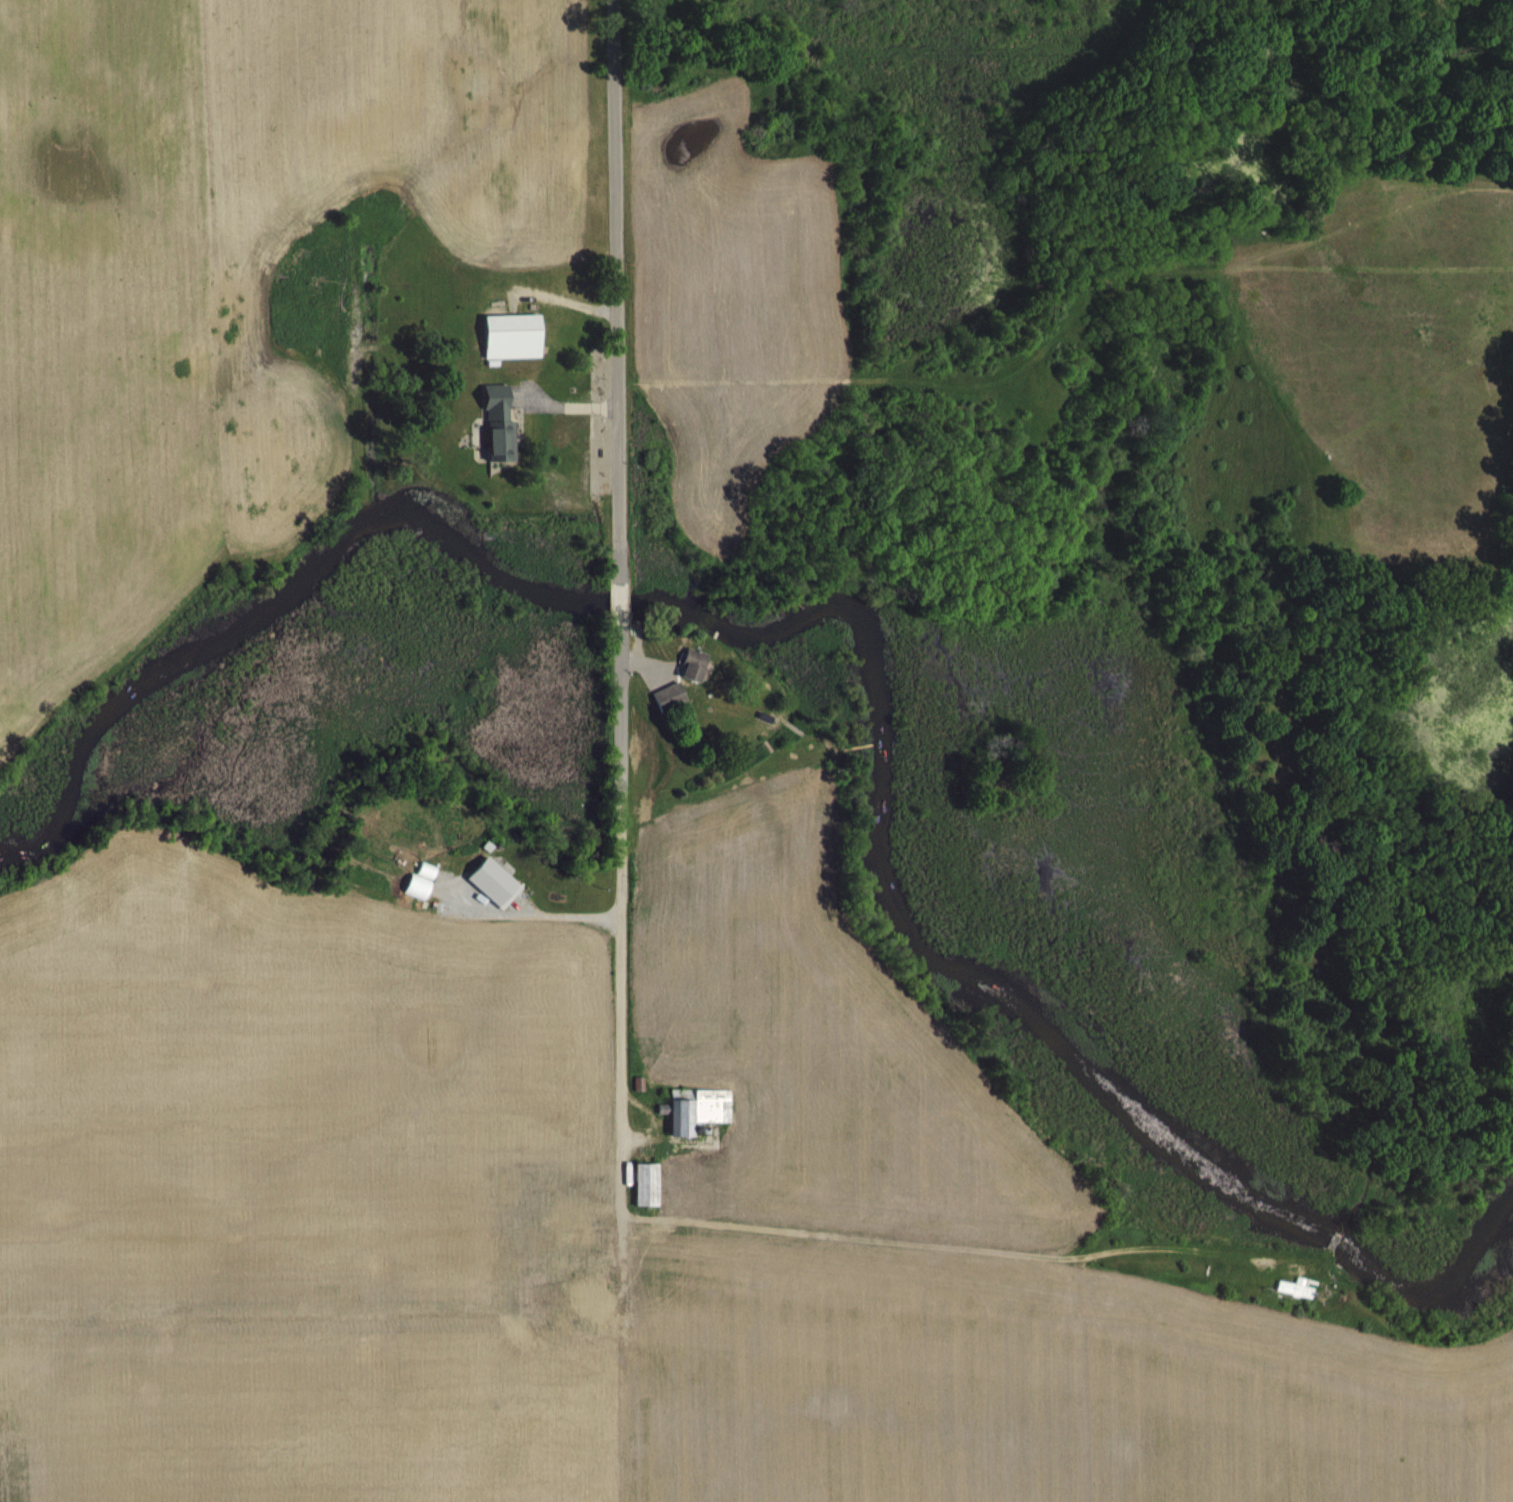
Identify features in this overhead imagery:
road: (614, 274)
building: (517, 336)
building: (503, 424)
road: (621, 599)
river: (876, 633)
building: (697, 663)
building: (671, 696)
building: (496, 881)
road: (619, 919)
building: (699, 1108)
building: (648, 1184)
building: (594, 1284)
building: (1302, 1288)

